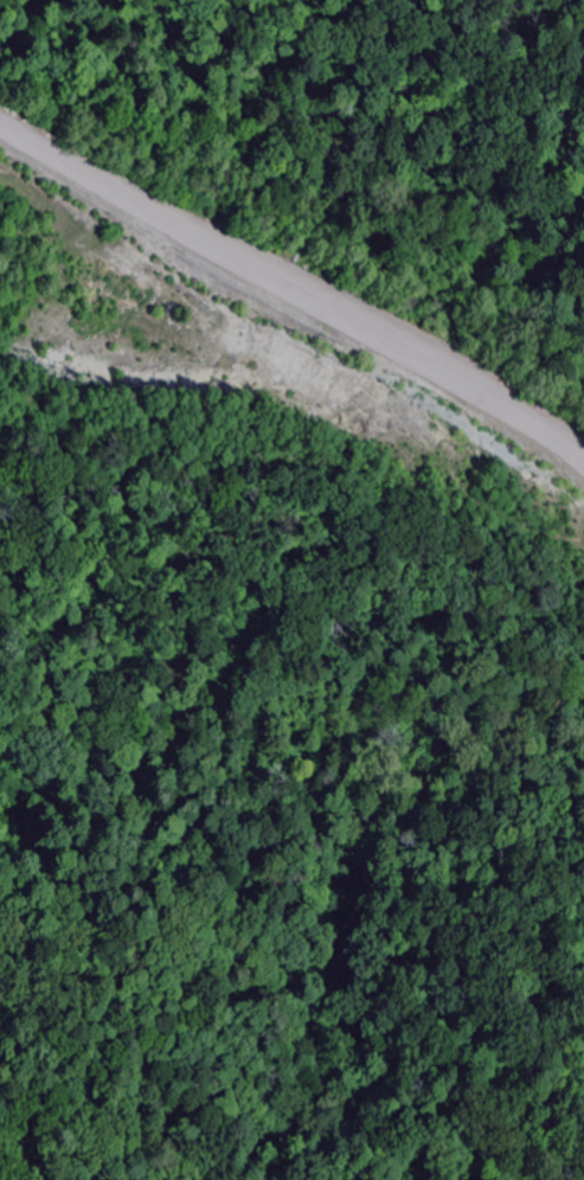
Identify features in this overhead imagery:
road: (295, 297)

